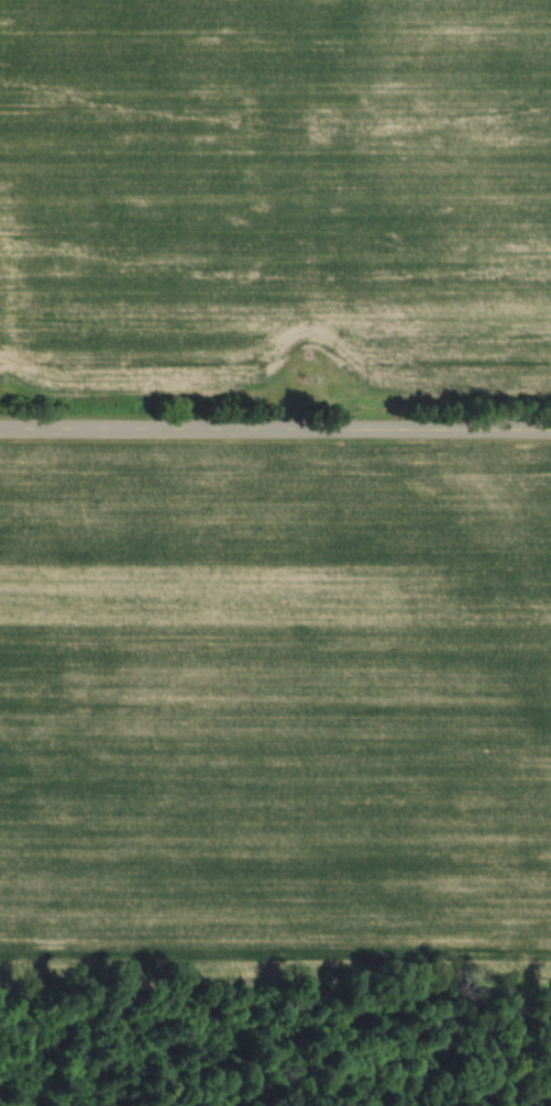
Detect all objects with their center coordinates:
crop: (274, 197)
road: (275, 427)
crop: (275, 719)

